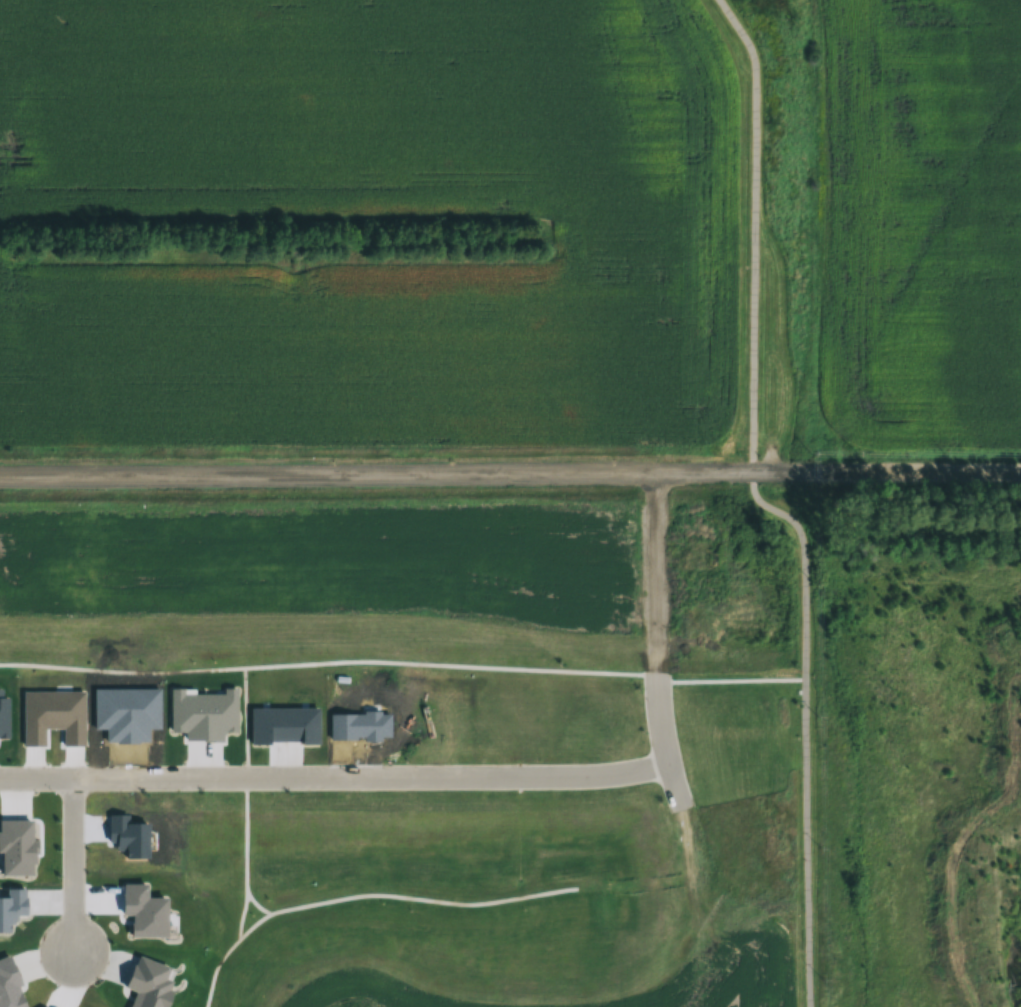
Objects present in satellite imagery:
crop: (919, 217)
road: (510, 474)
road: (764, 505)
road: (325, 664)
road: (728, 683)
road: (478, 779)
road: (242, 842)
road: (66, 867)
road: (396, 896)
road: (252, 905)
crop: (738, 965)
crop: (355, 993)

